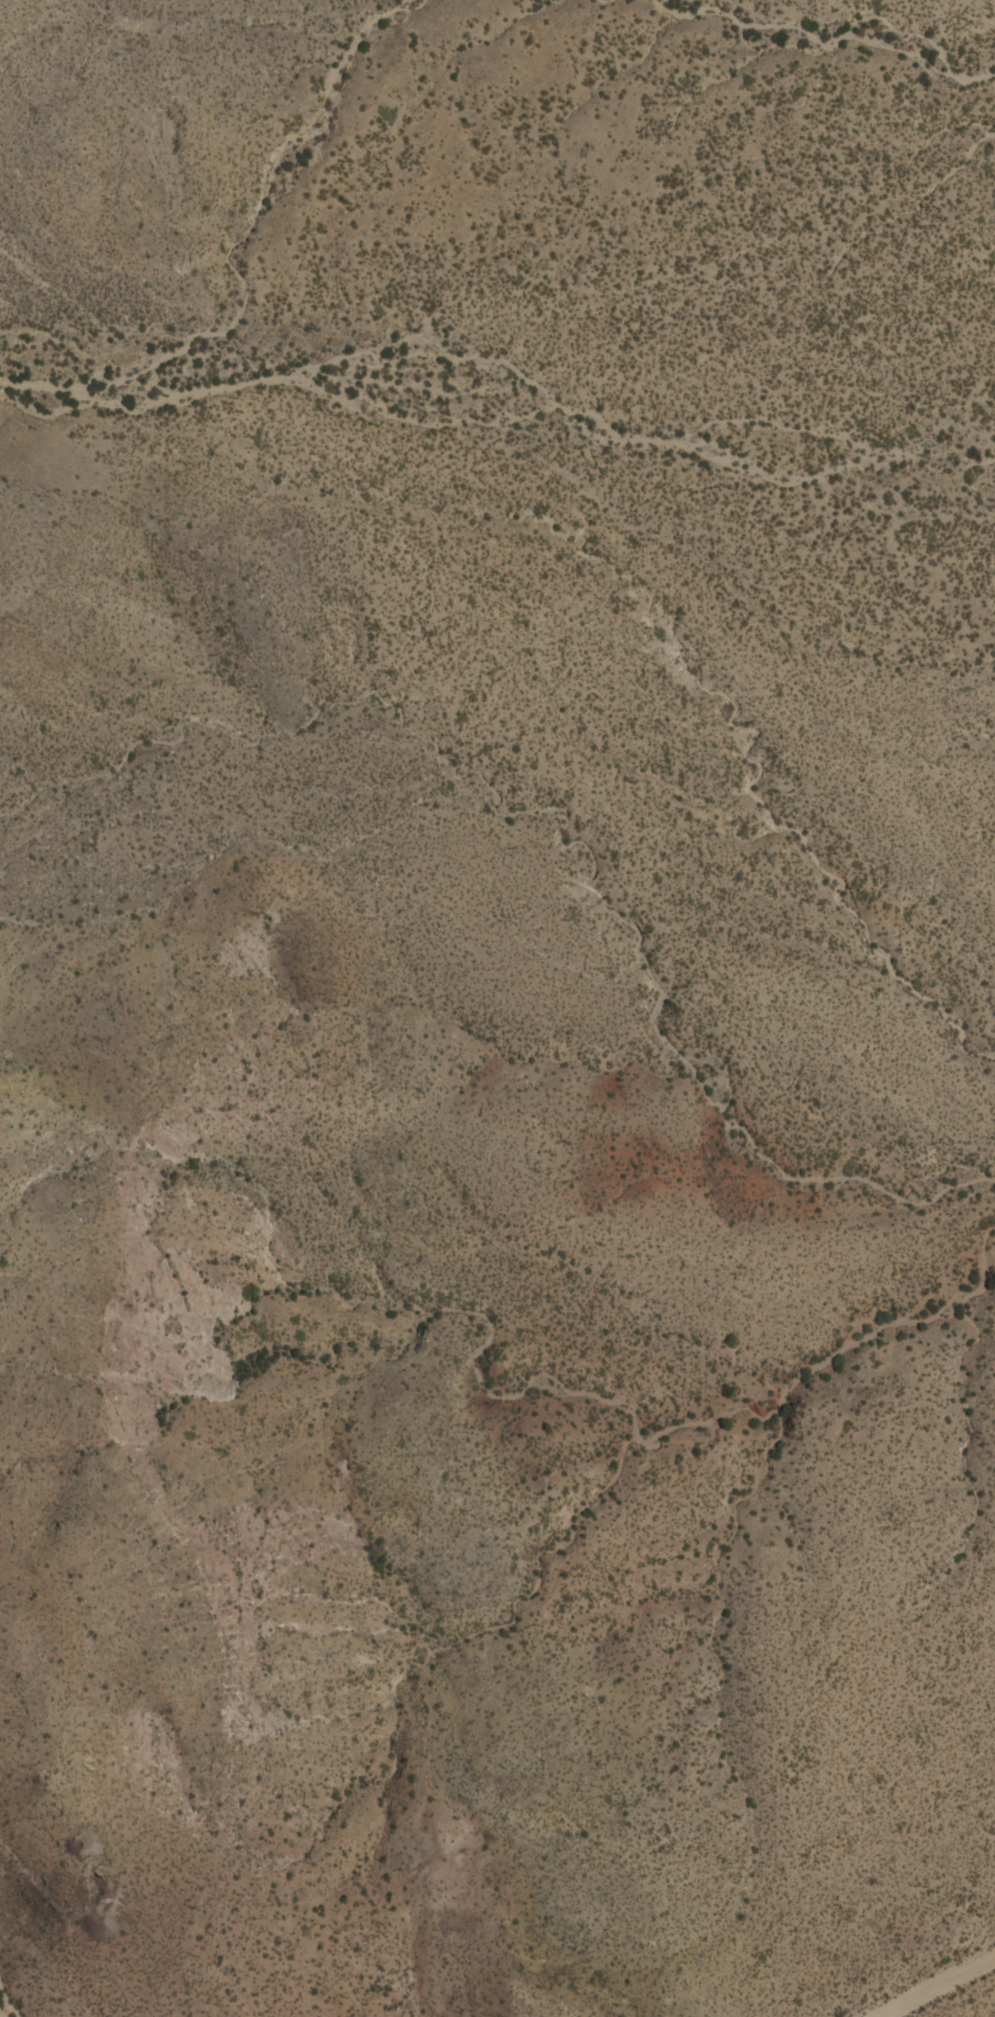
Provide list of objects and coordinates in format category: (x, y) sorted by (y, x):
road: (938, 1984)

